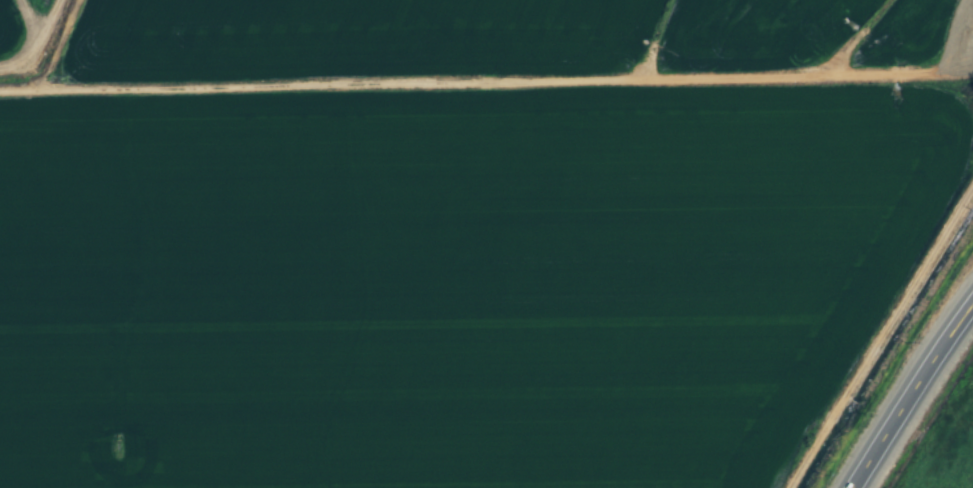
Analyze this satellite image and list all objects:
road: (911, 396)

